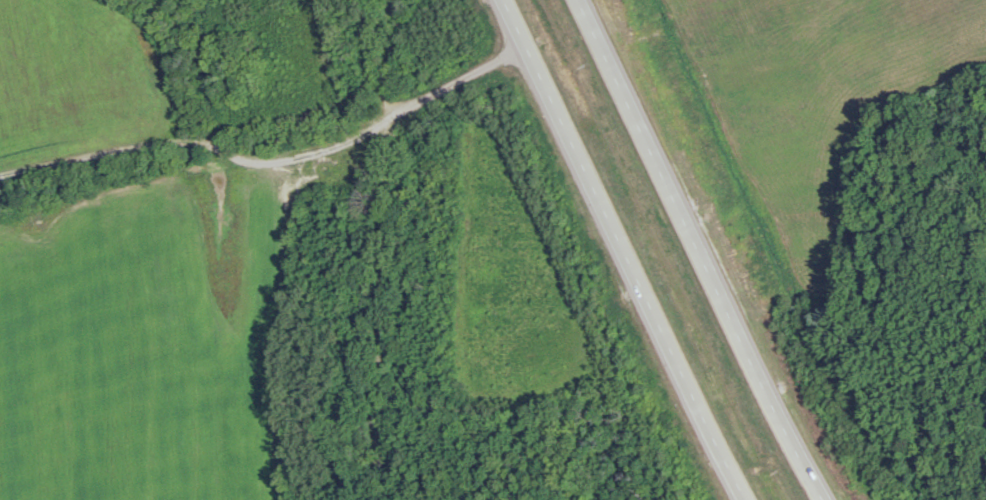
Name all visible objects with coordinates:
road: (375, 226)
road: (625, 251)
road: (697, 252)

